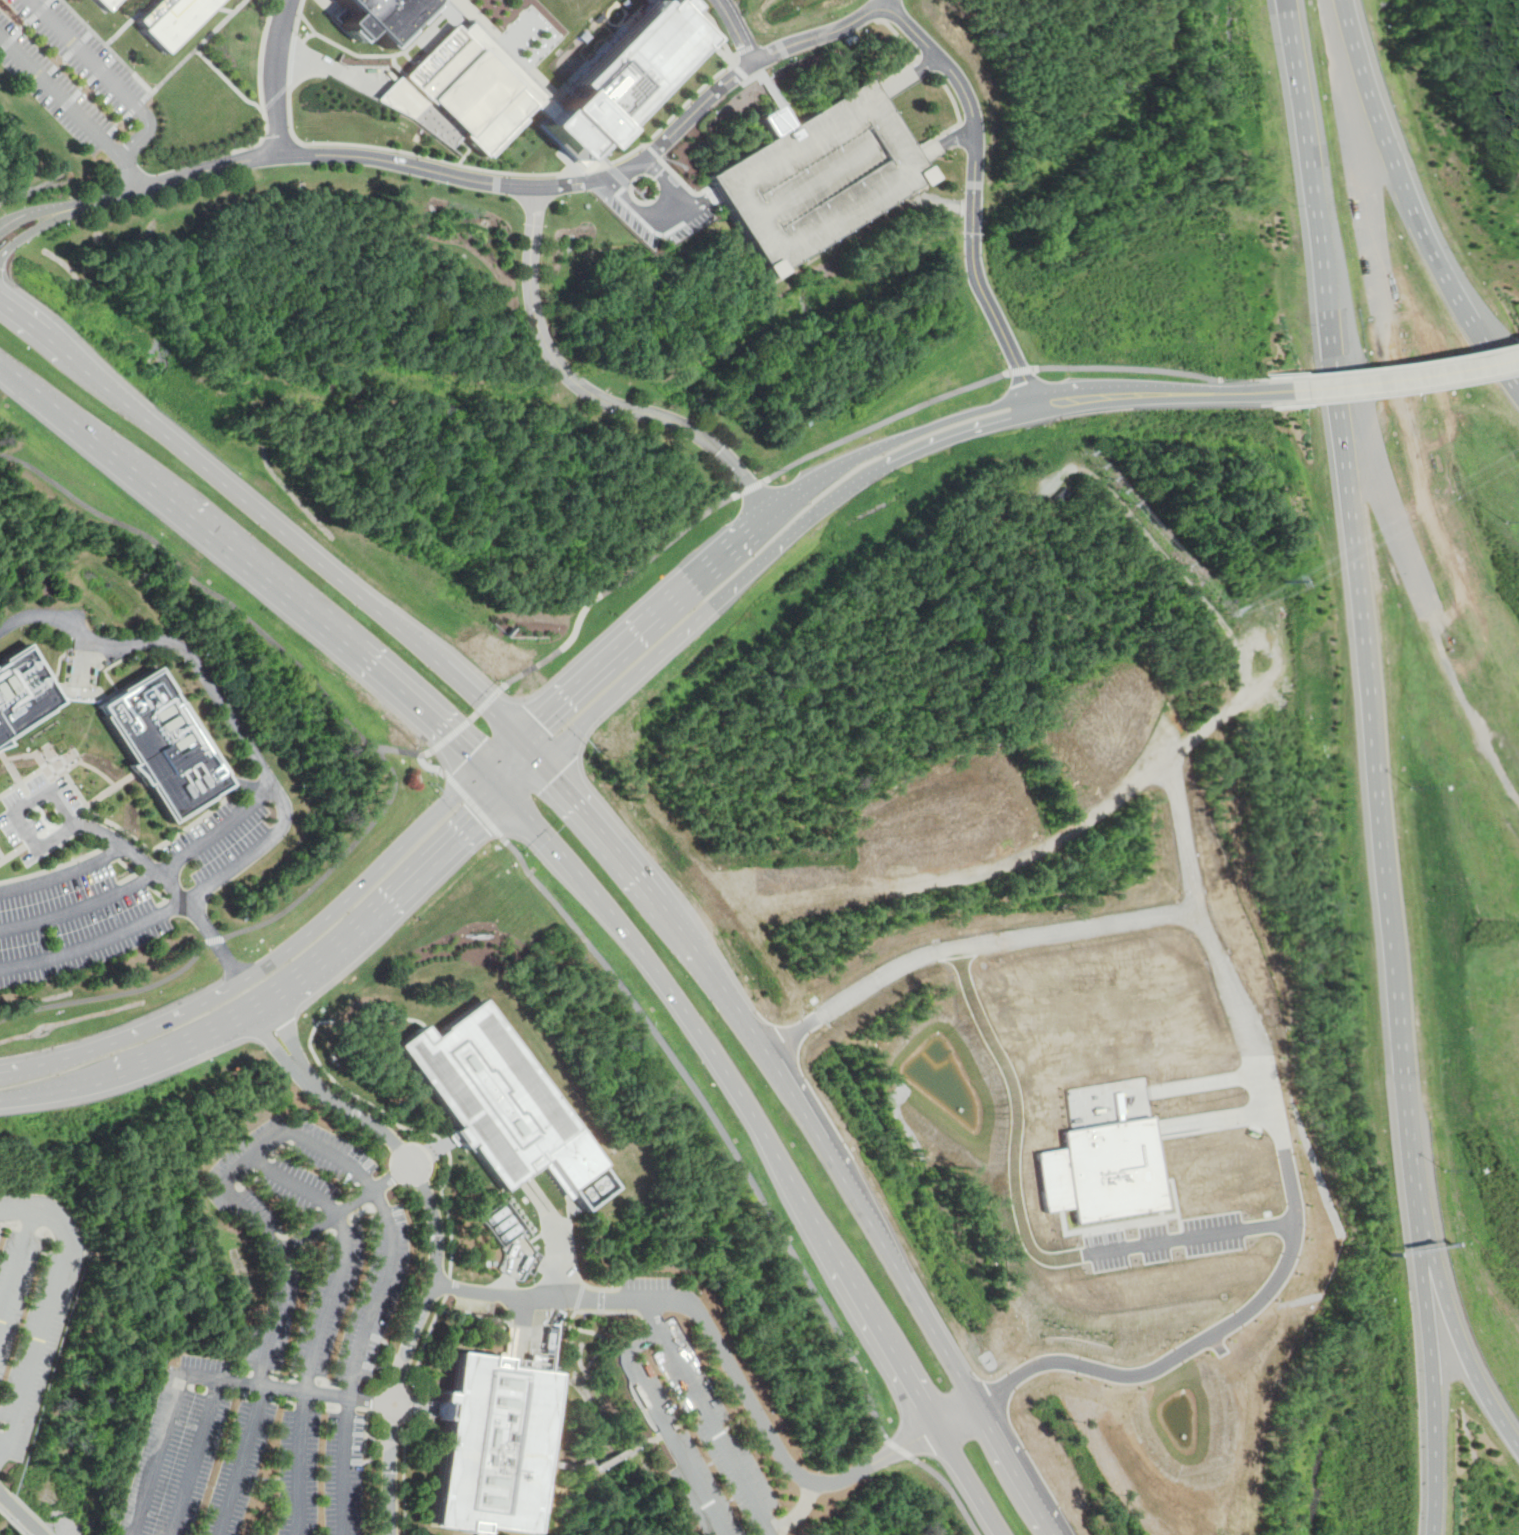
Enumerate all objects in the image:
building: (104, 4)
building: (380, 17)
building: (169, 18)
road: (736, 32)
parking lot: (68, 68)
road: (105, 74)
road: (279, 75)
building: (621, 80)
road: (1301, 81)
building: (468, 91)
road: (72, 105)
road: (947, 143)
building: (818, 176)
parking lot: (818, 176)
road: (503, 183)
road: (973, 193)
road: (1414, 198)
road: (700, 201)
road: (664, 210)
road: (35, 212)
road: (35, 230)
road: (1412, 363)
road: (1137, 368)
road: (1016, 370)
road: (1410, 376)
road: (1276, 378)
road: (1412, 387)
road: (588, 390)
road: (1258, 390)
road: (1150, 393)
road: (1060, 400)
road: (1281, 402)
road: (880, 420)
road: (960, 431)
road: (749, 485)
road: (830, 500)
street lamp: (1513, 520)
road: (276, 523)
road: (752, 526)
road: (245, 557)
road: (612, 584)
road: (659, 651)
road: (61, 658)
road: (105, 670)
road: (1372, 671)
road: (305, 673)
building: (23, 692)
road: (489, 699)
road: (473, 716)
traffic signals: (538, 719)
road: (450, 736)
building: (162, 744)
road: (501, 749)
road: (403, 751)
traffic signals: (471, 751)
road: (85, 760)
road: (427, 765)
road: (14, 769)
road: (102, 771)
road: (32, 775)
traffic signals: (555, 775)
road: (270, 780)
street lamp: (1415, 786)
road: (11, 788)
road: (34, 802)
road: (471, 803)
traffic signals: (478, 818)
road: (224, 824)
road: (1191, 832)
road: (133, 835)
road: (67, 852)
road: (11, 854)
road: (2, 860)
road: (166, 866)
road: (53, 868)
road: (990, 869)
road: (64, 875)
parking lot: (116, 876)
road: (81, 907)
road: (214, 939)
road: (216, 941)
road: (96, 943)
road: (284, 955)
road: (299, 978)
road: (110, 994)
road: (377, 1018)
road: (1257, 1033)
road: (16, 1069)
road: (1205, 1081)
building: (488, 1093)
road: (1223, 1116)
road: (719, 1123)
road: (768, 1134)
road: (818, 1134)
road: (435, 1150)
road: (572, 1155)
road: (253, 1157)
road: (451, 1163)
building: (1104, 1170)
road: (345, 1209)
building: (508, 1220)
road: (1021, 1226)
road: (558, 1237)
road: (573, 1238)
road: (436, 1240)
parking lot: (1166, 1241)
road: (18, 1272)
road: (584, 1298)
parking lot: (32, 1304)
road: (49, 1312)
road: (590, 1312)
road: (654, 1317)
road: (322, 1322)
road: (535, 1325)
road: (1449, 1329)
road: (387, 1345)
road: (509, 1345)
parking lot: (281, 1350)
road: (1423, 1357)
road: (732, 1366)
road: (329, 1394)
road: (422, 1407)
road: (433, 1413)
road: (739, 1423)
road: (664, 1425)
road: (682, 1425)
road: (367, 1430)
road: (719, 1433)
road: (370, 1435)
parking lot: (701, 1437)
road: (3, 1442)
building: (491, 1446)
road: (900, 1449)
road: (196, 1457)
road: (242, 1460)
road: (599, 1465)
road: (268, 1479)
road: (405, 1489)
road: (950, 1490)
road: (6, 1500)
road: (800, 1510)
road: (2, 1511)
road: (23, 1520)
road: (13, 1524)
road: (481, 1533)

